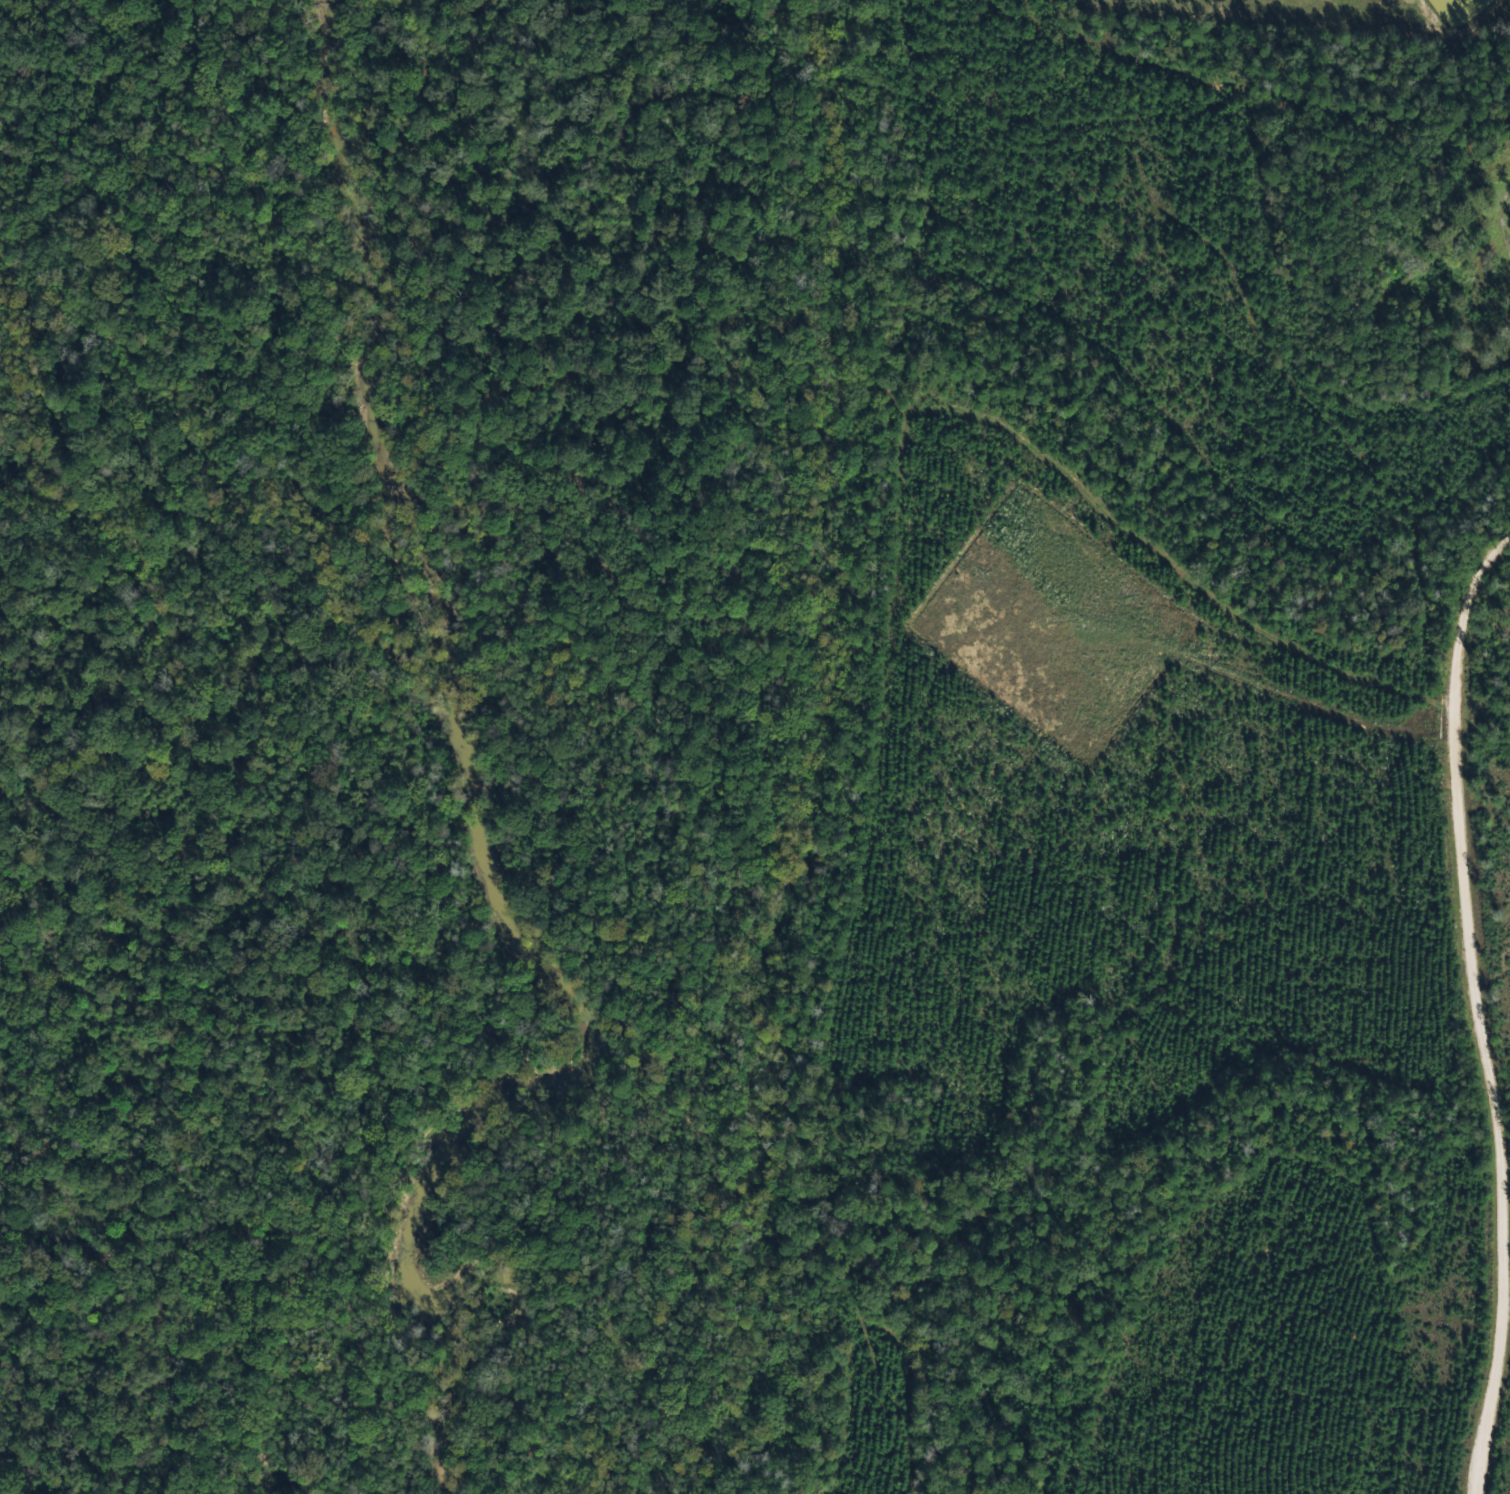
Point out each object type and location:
road: (248, 1)
road: (1280, 99)
road: (1459, 807)
road: (1464, 1351)

